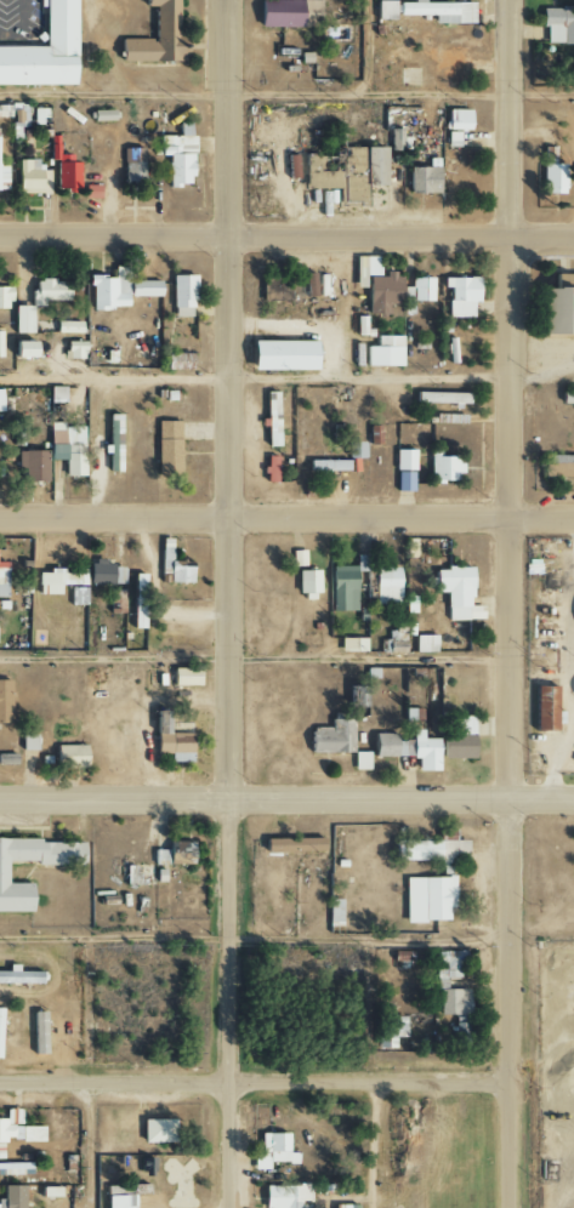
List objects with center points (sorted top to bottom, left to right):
building: (383, 10)
building: (437, 11)
building: (285, 12)
building: (557, 24)
building: (154, 35)
building: (42, 50)
road: (286, 95)
building: (4, 110)
building: (102, 115)
building: (19, 119)
building: (455, 119)
building: (394, 139)
building: (450, 152)
building: (177, 156)
building: (133, 166)
building: (291, 167)
building: (370, 169)
building: (30, 176)
building: (2, 177)
building: (551, 178)
building: (422, 180)
road: (286, 237)
building: (562, 281)
building: (308, 285)
building: (376, 285)
building: (118, 290)
building: (45, 292)
building: (416, 292)
building: (460, 295)
building: (182, 296)
building: (4, 297)
building: (556, 312)
building: (21, 319)
building: (67, 326)
building: (0, 342)
building: (23, 349)
building: (73, 349)
building: (383, 352)
building: (282, 355)
building: (176, 361)
road: (252, 377)
building: (439, 398)
building: (566, 398)
building: (0, 403)
building: (269, 418)
building: (113, 443)
building: (67, 448)
building: (167, 448)
building: (354, 450)
building: (404, 460)
building: (32, 466)
building: (557, 466)
building: (443, 469)
building: (404, 482)
road: (286, 514)
building: (297, 558)
building: (174, 564)
building: (104, 574)
building: (83, 577)
building: (2, 580)
building: (55, 580)
building: (307, 581)
building: (386, 586)
building: (342, 588)
building: (456, 593)
building: (78, 596)
building: (137, 600)
road: (507, 603)
road: (229, 604)
building: (396, 637)
building: (425, 643)
building: (352, 644)
road: (254, 657)
building: (184, 676)
building: (4, 701)
building: (331, 736)
building: (459, 739)
building: (170, 740)
building: (28, 741)
building: (382, 745)
building: (419, 751)
building: (70, 756)
building: (7, 758)
building: (360, 760)
road: (286, 796)
building: (291, 844)
building: (415, 849)
building: (174, 854)
building: (451, 854)
building: (2, 872)
building: (427, 898)
building: (334, 911)
road: (538, 927)
road: (254, 940)
building: (18, 976)
building: (441, 984)
building: (0, 1008)
building: (390, 1030)
building: (38, 1032)
road: (567, 1066)
road: (370, 1075)
road: (254, 1084)
building: (17, 1129)
building: (157, 1130)
road: (90, 1146)
building: (271, 1151)
building: (144, 1166)
building: (15, 1168)
road: (559, 1168)
building: (284, 1195)
building: (12, 1197)
road: (563, 1200)
building: (118, 1201)
road: (552, 1204)

